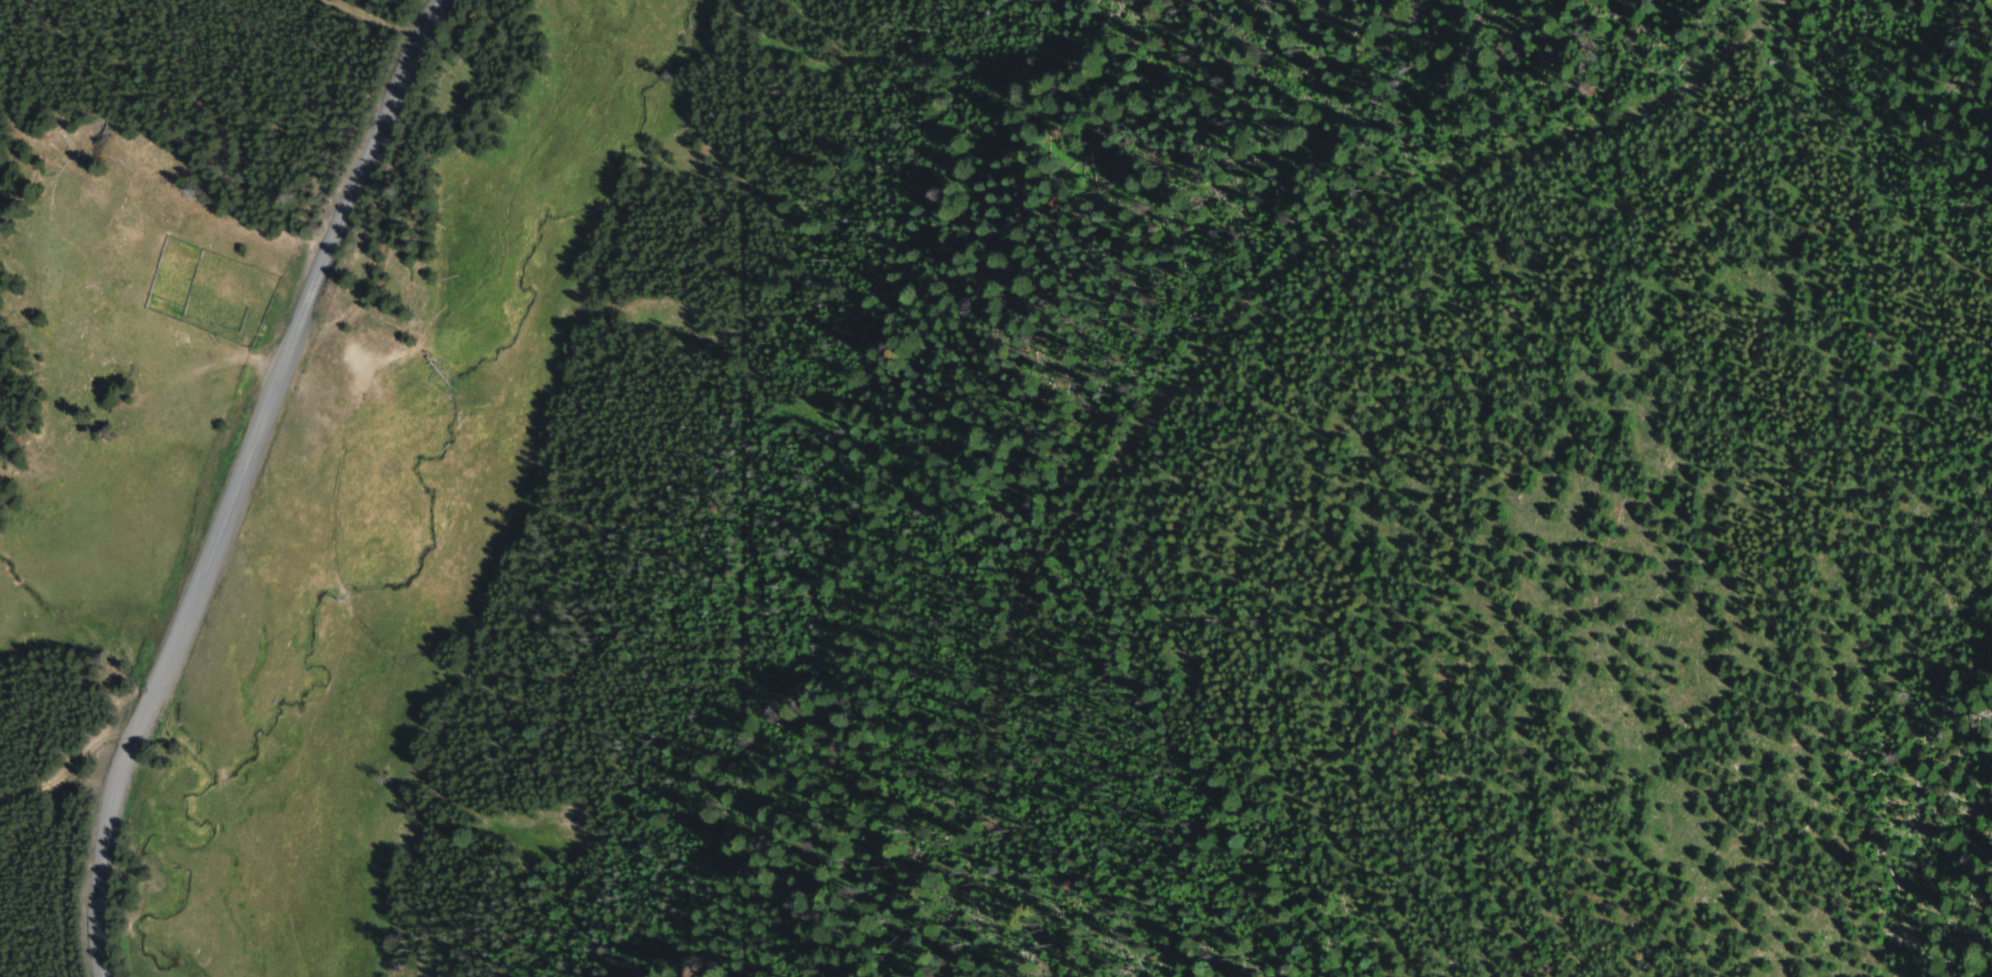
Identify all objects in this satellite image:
road: (385, 15)
road: (239, 479)

